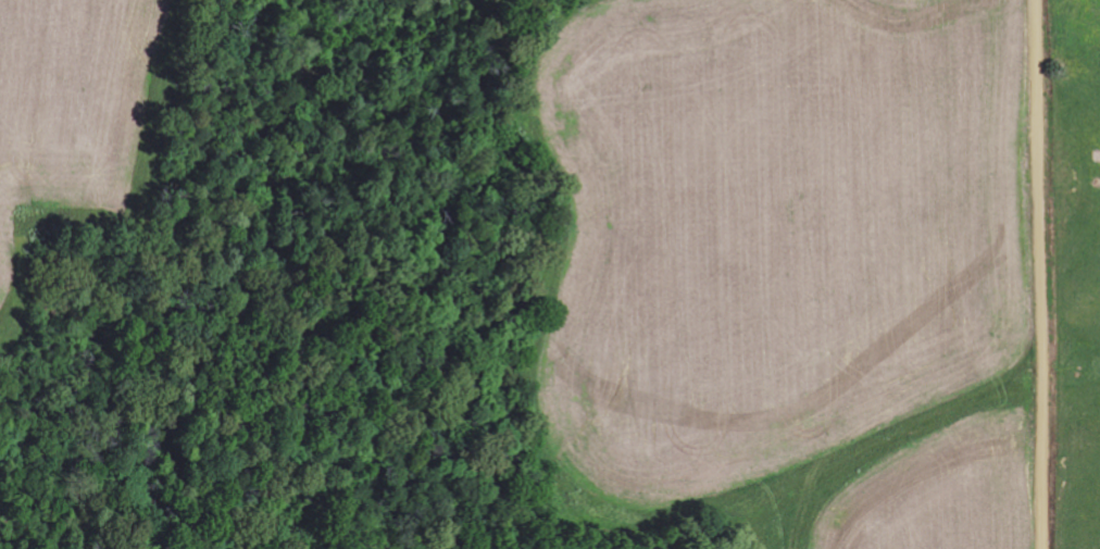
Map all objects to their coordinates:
road: (1042, 274)

